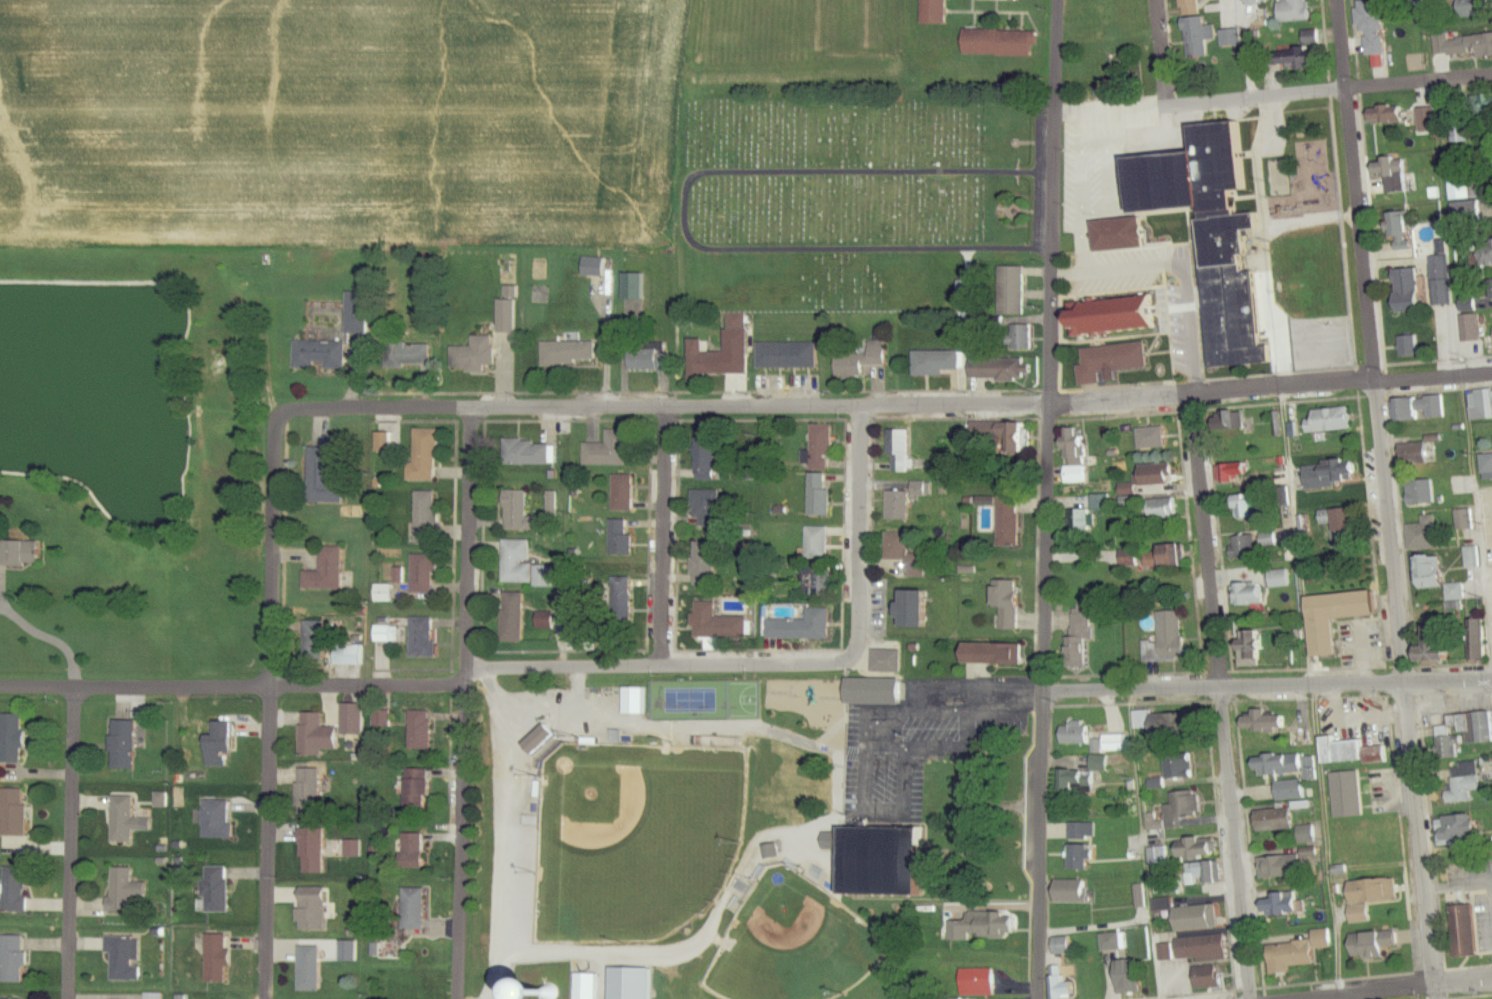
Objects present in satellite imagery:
building: (1256, 2)
building: (1192, 8)
building: (1295, 11)
building: (938, 12)
building: (1085, 16)
building: (1370, 29)
building: (1202, 31)
building: (1313, 38)
building: (1001, 43)
building: (1442, 45)
road: (1245, 47)
building: (1473, 47)
building: (1303, 59)
road: (1330, 87)
road: (1164, 105)
building: (1385, 116)
building: (1419, 119)
building: (1460, 131)
road: (1105, 173)
building: (1396, 176)
building: (1465, 187)
road: (1079, 194)
road: (1308, 221)
building: (1395, 229)
building: (1216, 232)
road: (1260, 240)
building: (1485, 254)
building: (595, 268)
road: (1067, 276)
road: (1182, 280)
building: (635, 287)
building: (968, 289)
building: (1490, 290)
building: (1466, 306)
building: (509, 312)
building: (360, 313)
building: (1119, 316)
building: (740, 323)
building: (1021, 338)
road: (1370, 340)
road: (1053, 342)
building: (1407, 345)
building: (571, 353)
building: (476, 354)
building: (321, 355)
building: (789, 355)
building: (415, 356)
road: (271, 358)
building: (708, 359)
building: (653, 360)
building: (861, 361)
building: (1114, 362)
building: (938, 363)
building: (1003, 369)
road: (1342, 381)
building: (1479, 405)
road: (737, 407)
building: (1418, 408)
building: (1324, 420)
building: (1237, 421)
building: (1275, 425)
building: (994, 436)
building: (1154, 438)
building: (611, 449)
building: (821, 450)
building: (902, 452)
building: (534, 454)
building: (1411, 454)
building: (426, 455)
building: (1075, 456)
building: (708, 459)
building: (1485, 467)
building: (1234, 471)
building: (1340, 471)
building: (327, 478)
building: (1132, 491)
building: (624, 493)
building: (1418, 493)
building: (821, 496)
building: (907, 500)
building: (552, 505)
building: (1251, 505)
building: (708, 509)
building: (519, 511)
building: (427, 517)
building: (1462, 520)
building: (1011, 521)
building: (1342, 525)
building: (1427, 533)
road: (667, 537)
road: (1207, 537)
building: (622, 538)
building: (1271, 539)
building: (817, 543)
road: (472, 544)
building: (1242, 547)
road: (860, 550)
road: (275, 553)
building: (22, 554)
building: (909, 555)
building: (1167, 556)
building: (1131, 558)
building: (706, 563)
building: (517, 564)
road: (1484, 566)
building: (328, 571)
building: (426, 574)
building: (545, 576)
building: (1440, 578)
building: (819, 585)
building: (1264, 588)
building: (385, 593)
building: (1009, 603)
building: (921, 610)
building: (1341, 617)
building: (515, 618)
building: (547, 620)
building: (801, 624)
building: (718, 625)
building: (1083, 631)
building: (385, 634)
building: (426, 637)
road: (43, 638)
building: (1168, 639)
building: (1442, 645)
building: (1478, 650)
building: (1000, 654)
building: (1253, 654)
building: (346, 655)
building: (889, 661)
road: (1267, 682)
road: (413, 687)
building: (878, 692)
park: (748, 698)
park: (694, 699)
building: (636, 701)
building: (355, 718)
building: (1144, 720)
building: (1266, 721)
building: (1173, 725)
building: (1467, 728)
building: (422, 730)
building: (319, 735)
building: (1080, 736)
building: (14, 739)
building: (543, 739)
building: (225, 743)
building: (1116, 743)
building: (126, 745)
building: (1351, 751)
building: (1102, 764)
building: (1282, 764)
building: (1182, 766)
building: (1464, 781)
building: (1087, 783)
building: (421, 786)
building: (1291, 790)
building: (312, 791)
building: (1348, 792)
building: (1186, 806)
building: (17, 812)
building: (221, 818)
building: (1280, 820)
building: (128, 821)
building: (1463, 829)
building: (1084, 831)
building: (1385, 834)
building: (1311, 836)
road: (462, 838)
park: (635, 838)
road: (1419, 839)
road: (1038, 841)
road: (1237, 841)
road: (72, 843)
road: (269, 844)
building: (1198, 848)
building: (315, 850)
building: (417, 850)
building: (1083, 857)
building: (885, 860)
building: (1289, 864)
building: (1205, 874)
building: (1172, 887)
building: (17, 889)
building: (219, 889)
building: (126, 890)
building: (1077, 892)
building: (1139, 897)
building: (1368, 898)
building: (1166, 905)
building: (1288, 905)
building: (416, 906)
building: (316, 908)
building: (1201, 918)
building: (988, 924)
building: (1466, 931)
building: (1115, 942)
park: (792, 944)
building: (1372, 945)
building: (1063, 946)
building: (1208, 949)
building: (1302, 952)
building: (221, 957)
building: (127, 958)
building: (15, 959)
building: (312, 968)
building: (1134, 976)
building: (1211, 977)
building: (980, 982)
building: (1064, 983)
building: (588, 986)
road: (1386, 987)
water tower: (549, 995)
building: (156, 996)

